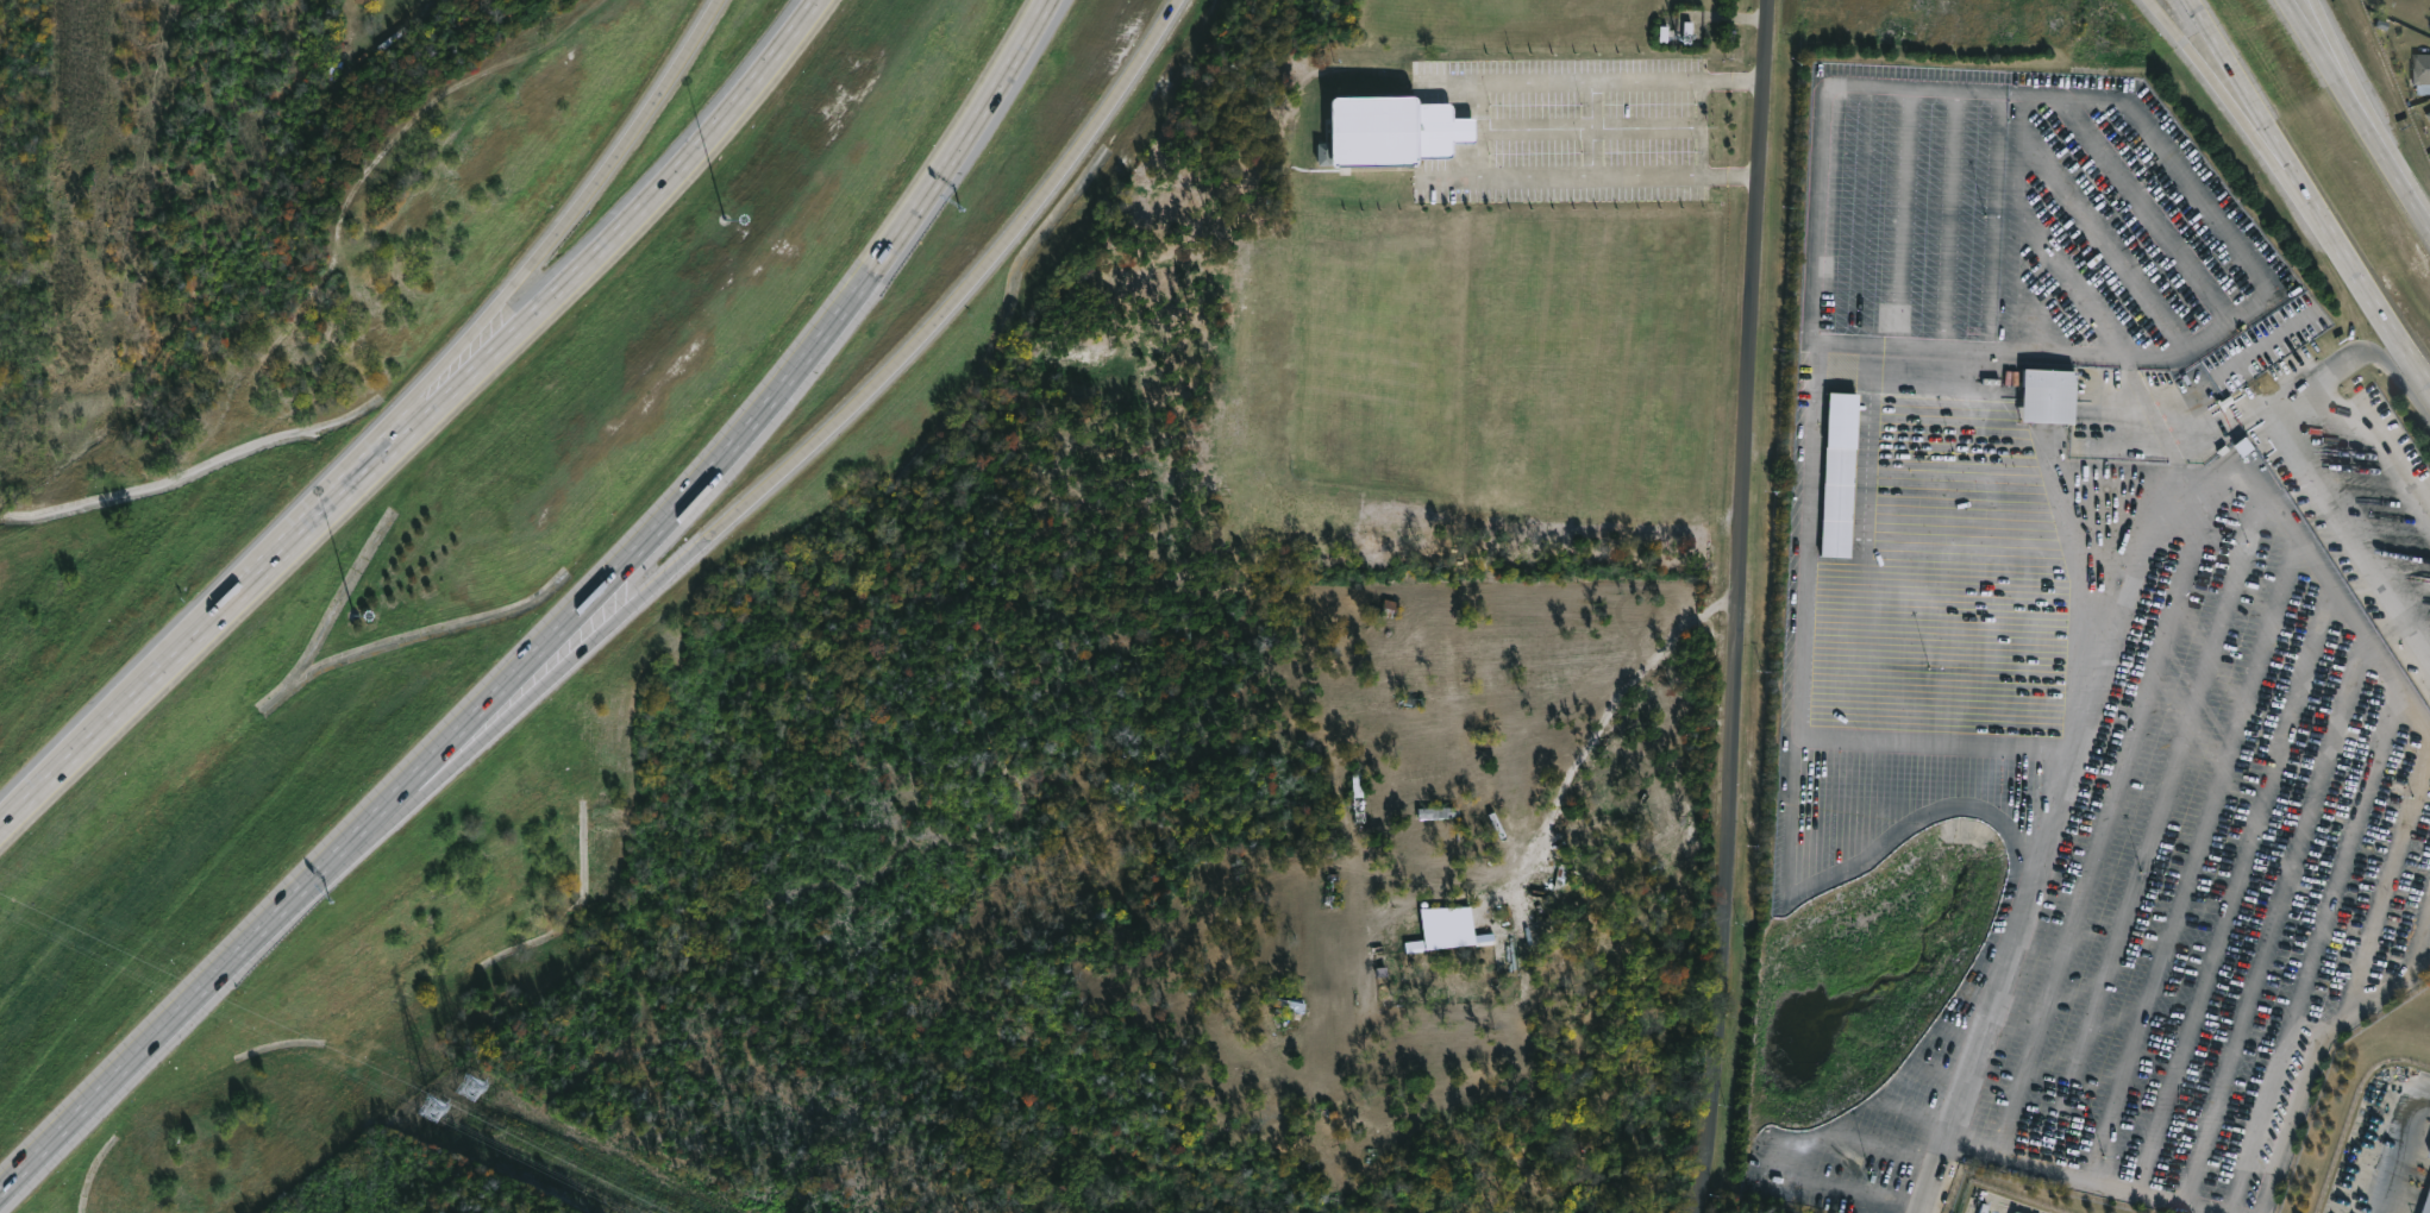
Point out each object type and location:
building: (369, 2)
building: (2429, 14)
building: (2419, 69)
road: (2334, 71)
road: (2348, 71)
road: (2240, 111)
road: (2263, 112)
building: (2428, 115)
road: (1486, 127)
road: (1539, 127)
road: (1647, 127)
road: (1703, 127)
road: (1592, 128)
building: (1398, 133)
road: (612, 152)
road: (2179, 163)
road: (2405, 183)
street lamp: (725, 219)
park: (18, 237)
park: (25, 246)
road: (2381, 303)
road: (465, 353)
road: (2387, 362)
road: (868, 389)
road: (2304, 389)
building: (2042, 392)
road: (754, 414)
road: (420, 417)
building: (1839, 421)
road: (2379, 452)
road: (1990, 470)
road: (1806, 540)
road: (2346, 542)
road: (2149, 552)
road: (2307, 555)
road: (1739, 606)
street lamp: (356, 611)
road: (1941, 744)
road: (452, 752)
building: (1363, 797)
building: (1435, 813)
road: (2, 818)
building: (1334, 887)
road: (2025, 918)
road: (202, 983)
building: (1286, 1012)
road: (2310, 1061)
power tower: (450, 1111)
building: (2428, 1152)
road: (2091, 1180)
building: (2426, 1203)

